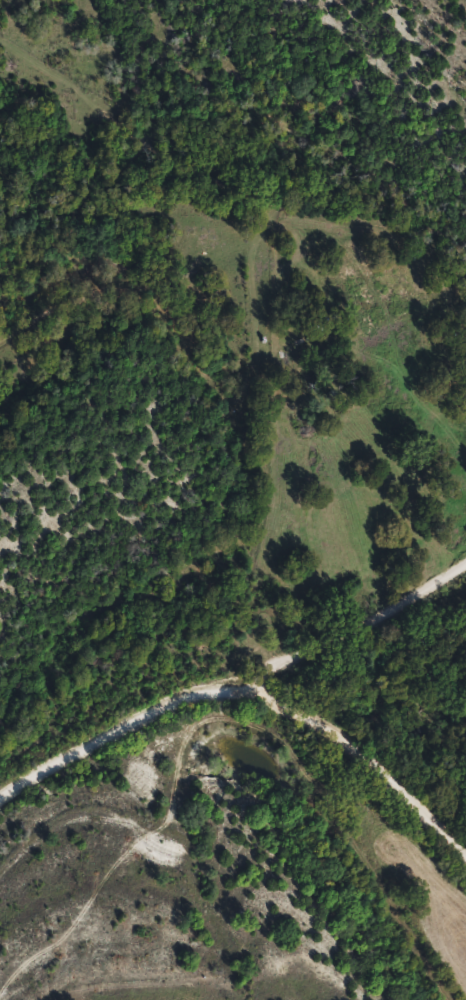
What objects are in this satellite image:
road: (354, 617)
road: (238, 696)

